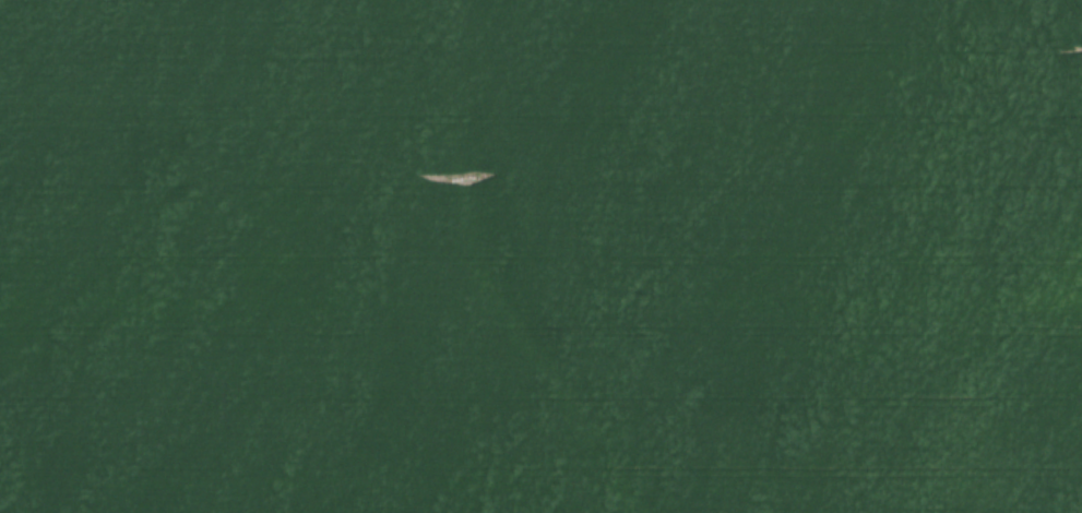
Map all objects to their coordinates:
crop: (540, 256)

